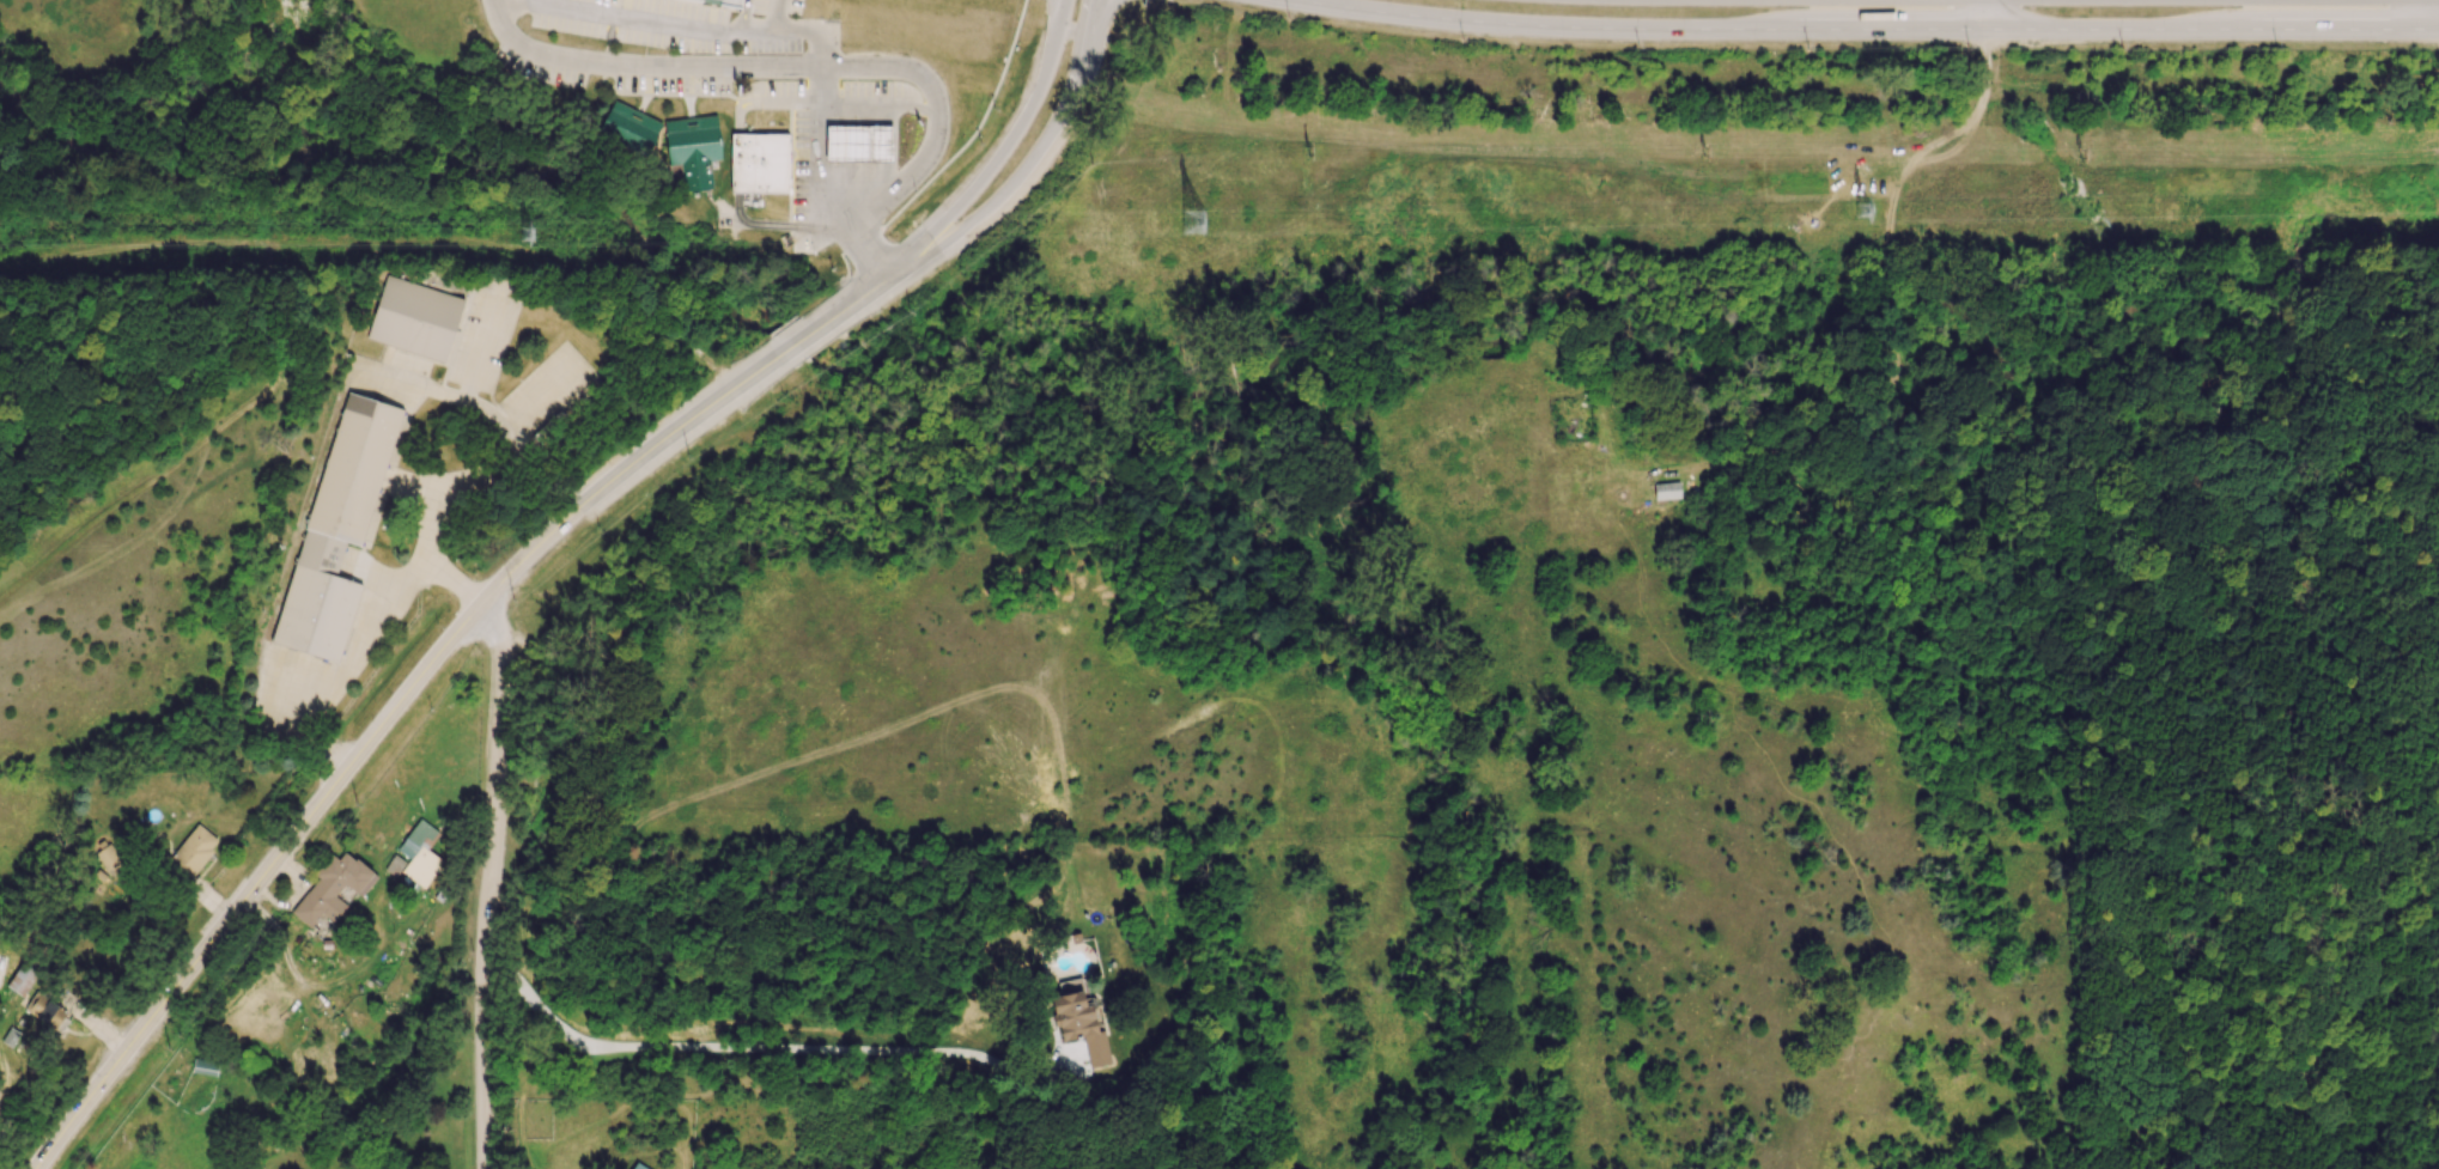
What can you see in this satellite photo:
building: (719, 2)
road: (1996, 16)
road: (2428, 16)
road: (674, 28)
road: (1862, 31)
road: (819, 67)
road: (876, 106)
building: (628, 128)
building: (857, 144)
road: (1932, 146)
building: (692, 151)
power tower: (1312, 151)
road: (816, 153)
power tower: (1707, 153)
road: (1000, 156)
power tower: (2087, 156)
building: (759, 163)
road: (1029, 168)
power tower: (1865, 213)
power tower: (1193, 225)
power tower: (525, 241)
road: (470, 274)
road: (1893, 297)
building: (414, 318)
road: (481, 342)
road: (549, 398)
road: (1781, 449)
road: (505, 461)
building: (358, 467)
building: (1666, 491)
building: (316, 613)
road: (337, 678)
road: (416, 682)
building: (190, 853)
building: (420, 853)
building: (394, 865)
road: (488, 881)
building: (332, 888)
building: (22, 979)
building: (44, 1006)
building: (1081, 1021)
road: (770, 1049)
building: (205, 1066)
building: (638, 1167)

